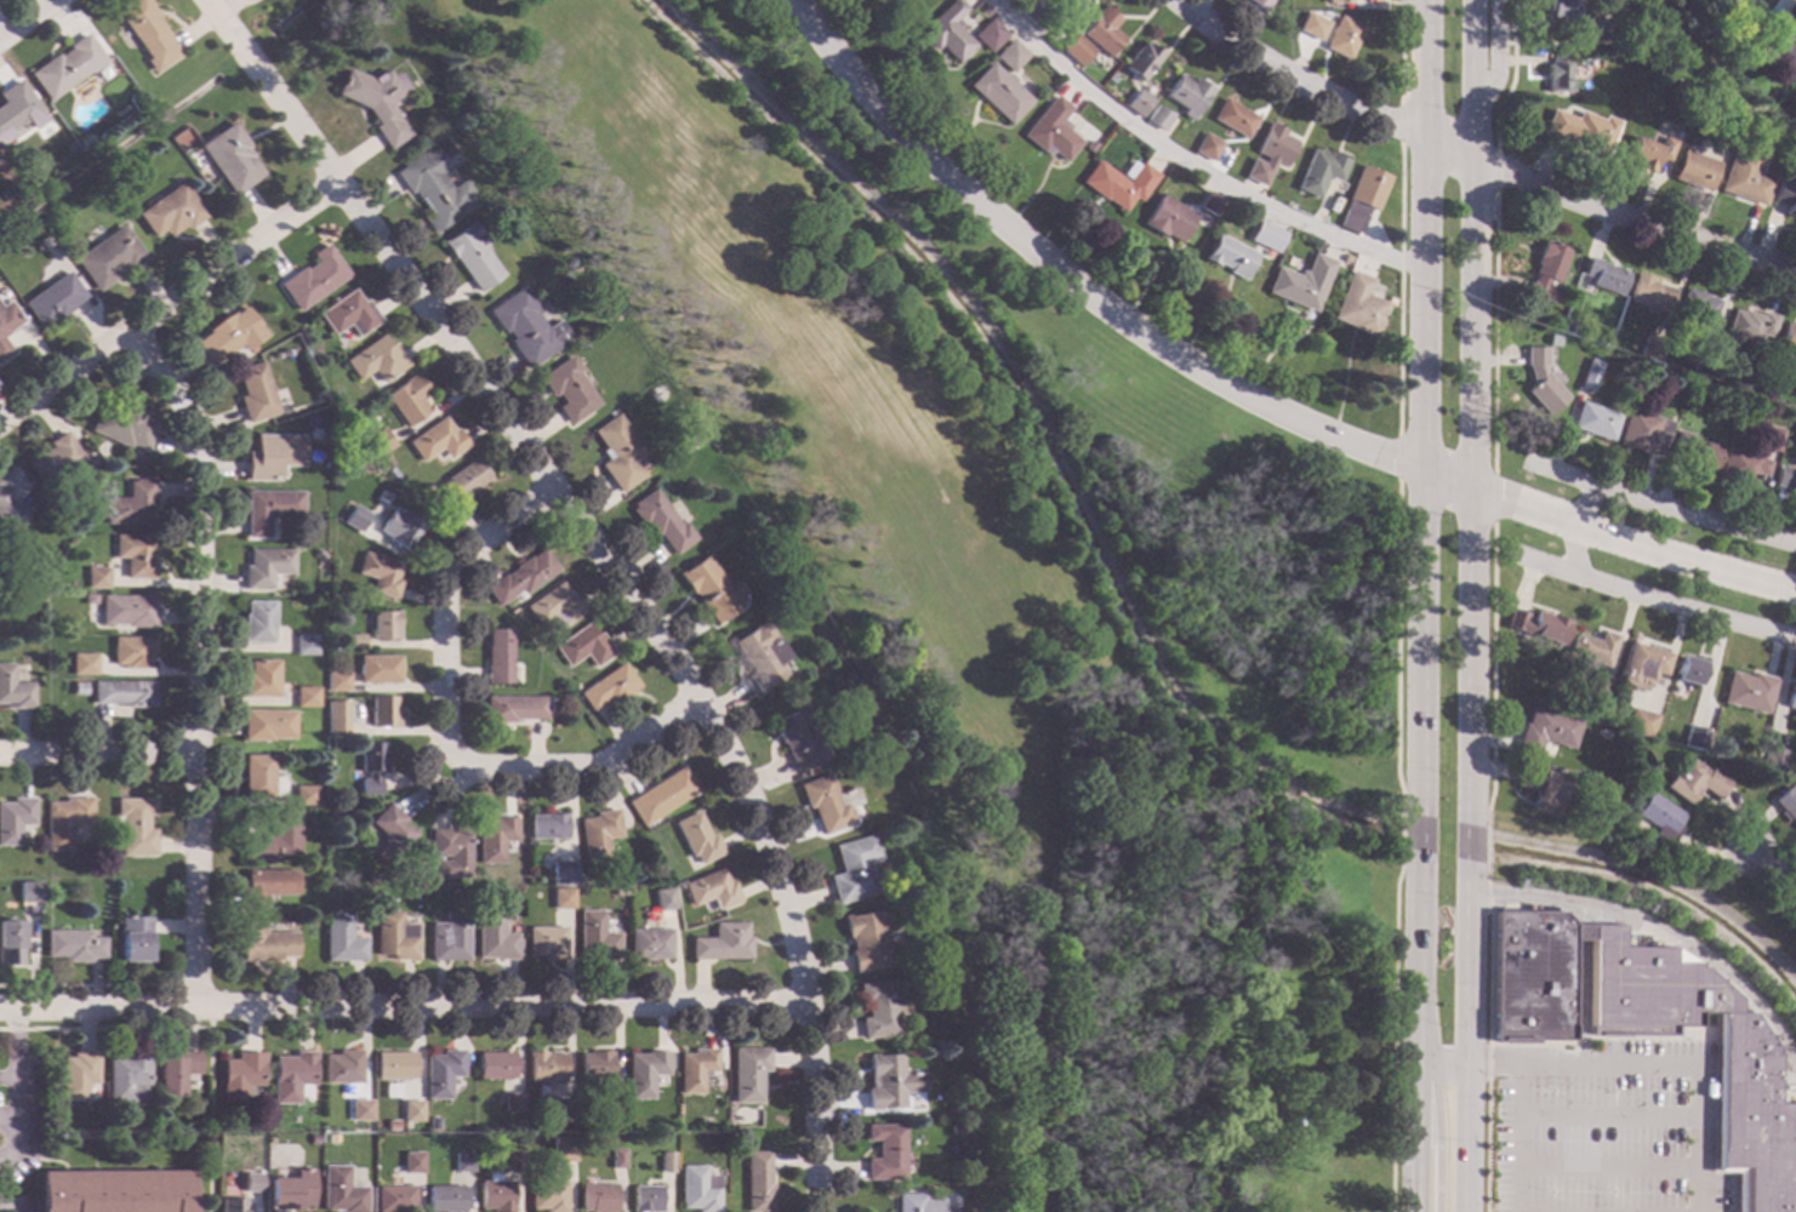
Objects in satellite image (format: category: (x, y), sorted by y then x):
building: (895, 1)
building: (1335, 1)
building: (1729, 1)
building: (1072, 4)
building: (1259, 4)
building: (1567, 7)
road: (1412, 8)
building: (1032, 11)
road: (24, 17)
building: (971, 19)
building: (1595, 24)
building: (1316, 27)
building: (144, 32)
building: (945, 32)
building: (1101, 32)
building: (987, 35)
building: (1777, 35)
building: (1341, 36)
road: (1637, 42)
building: (1070, 47)
road: (1401, 51)
building: (1009, 56)
building: (1141, 59)
road: (1495, 61)
building: (64, 67)
building: (1557, 75)
road: (1511, 76)
building: (1110, 78)
building: (1683, 88)
building: (997, 92)
building: (1186, 95)
building: (374, 102)
building: (1138, 103)
building: (18, 109)
building: (1157, 118)
building: (1232, 118)
road: (1401, 122)
building: (1049, 130)
building: (1583, 130)
building: (1783, 135)
building: (81, 141)
building: (1205, 147)
building: (1705, 147)
building: (1646, 153)
building: (1267, 154)
building: (228, 159)
road: (1181, 162)
road: (1473, 162)
road: (1495, 170)
building: (1318, 171)
building: (1693, 171)
building: (513, 175)
building: (1743, 178)
building: (1116, 183)
building: (432, 184)
building: (17, 187)
building: (1784, 195)
building: (1359, 198)
building: (1209, 204)
building: (169, 212)
building: (1165, 219)
building: (1271, 238)
building: (469, 256)
building: (1227, 256)
building: (1346, 257)
building: (107, 258)
building: (566, 263)
building: (1547, 273)
building: (1602, 276)
building: (310, 279)
road: (1068, 280)
building: (1299, 282)
road: (1398, 287)
building: (1648, 293)
road: (166, 299)
building: (51, 301)
building: (1356, 305)
building: (1695, 307)
building: (346, 314)
building: (6, 318)
building: (1749, 325)
building: (521, 326)
road: (1494, 330)
building: (227, 336)
building: (1786, 339)
building: (1551, 341)
building: (1649, 348)
building: (4, 350)
building: (374, 360)
building: (1699, 365)
building: (1587, 375)
building: (1539, 381)
building: (1795, 383)
building: (566, 389)
building: (253, 393)
building: (317, 396)
building: (405, 399)
road: (1414, 402)
road: (1472, 404)
building: (1592, 421)
building: (120, 427)
building: (1642, 433)
building: (1772, 439)
building: (435, 440)
building: (377, 441)
building: (1693, 452)
building: (617, 453)
building: (272, 456)
road: (1397, 457)
building: (53, 461)
building: (386, 461)
building: (1741, 465)
building: (1785, 480)
building: (461, 481)
building: (382, 497)
road: (1493, 497)
building: (10, 499)
road: (1658, 503)
building: (131, 504)
road: (1585, 508)
building: (268, 510)
building: (354, 519)
building: (660, 522)
building: (399, 530)
road: (1602, 537)
park: (1641, 544)
road: (1573, 553)
building: (135, 555)
building: (264, 566)
road: (605, 567)
building: (378, 574)
building: (520, 577)
building: (97, 578)
building: (709, 589)
building: (89, 599)
road: (443, 599)
road: (1649, 599)
building: (553, 607)
park: (1026, 610)
building: (127, 611)
building: (257, 622)
building: (383, 625)
building: (1535, 625)
road: (1395, 636)
building: (353, 640)
building: (304, 644)
building: (582, 646)
building: (1590, 648)
building: (132, 652)
road: (194, 656)
building: (496, 657)
building: (760, 657)
building: (82, 664)
building: (1638, 664)
road: (1490, 665)
building: (377, 668)
building: (1684, 670)
building: (260, 679)
building: (336, 681)
building: (1595, 686)
building: (609, 688)
building: (13, 690)
building: (78, 690)
building: (1745, 691)
building: (122, 693)
building: (304, 697)
building: (1790, 704)
building: (512, 709)
building: (382, 711)
building: (335, 724)
building: (1637, 724)
building: (267, 725)
building: (1544, 731)
building: (797, 737)
building: (1693, 738)
road: (96, 750)
building: (1771, 759)
road: (587, 765)
building: (370, 767)
building: (256, 777)
road: (428, 781)
building: (1692, 782)
building: (1538, 787)
building: (303, 795)
building: (661, 795)
building: (827, 802)
building: (1785, 806)
building: (1657, 818)
building: (15, 819)
building: (65, 821)
building: (546, 825)
building: (133, 827)
road: (1399, 829)
building: (389, 834)
building: (598, 834)
road: (1414, 835)
building: (696, 837)
building: (272, 839)
building: (494, 839)
road: (1467, 840)
road: (1486, 844)
building: (450, 853)
building: (854, 869)
building: (560, 871)
road: (1771, 871)
building: (372, 877)
building: (264, 887)
building: (711, 890)
building: (29, 892)
building: (561, 898)
building: (665, 902)
building: (650, 910)
building: (1578, 932)
road: (1659, 933)
building: (394, 936)
building: (595, 936)
building: (341, 938)
building: (447, 938)
building: (494, 938)
building: (133, 939)
building: (865, 941)
building: (10, 943)
building: (546, 943)
building: (722, 943)
building: (263, 944)
building: (649, 944)
building: (72, 945)
building: (1528, 976)
road: (95, 984)
road: (1412, 985)
road: (1580, 985)
road: (403, 1002)
building: (877, 1010)
road: (106, 1027)
road: (1578, 1036)
road: (1392, 1039)
road: (1465, 1041)
road: (1558, 1044)
road: (1487, 1045)
road: (1700, 1048)
road: (15, 1064)
building: (394, 1064)
road: (1638, 1064)
road: (1723, 1064)
building: (494, 1065)
building: (594, 1065)
building: (544, 1067)
building: (342, 1068)
building: (695, 1069)
building: (175, 1073)
building: (440, 1073)
building: (644, 1073)
building: (239, 1074)
building: (76, 1075)
building: (748, 1075)
road: (7, 1076)
building: (126, 1076)
building: (290, 1076)
building: (1745, 1079)
building: (889, 1081)
road: (1435, 1086)
building: (352, 1091)
building: (615, 1099)
building: (512, 1102)
road: (210, 1108)
building: (358, 1109)
building: (412, 1111)
building: (563, 1111)
building: (953, 1111)
road: (1607, 1114)
parking lot: (19, 1115)
building: (55, 1126)
building: (119, 1126)
building: (247, 1127)
building: (406, 1127)
parking lot: (1606, 1127)
road: (15, 1134)
road: (1517, 1138)
building: (331, 1139)
building: (312, 1140)
building: (884, 1151)
road: (40, 1156)
building: (616, 1159)
road: (1409, 1160)
building: (462, 1161)
building: (513, 1161)
building: (564, 1161)
building: (666, 1161)
building: (411, 1164)
road: (1607, 1165)
building: (250, 1180)
building: (757, 1182)
building: (697, 1189)
building: (114, 1191)
building: (289, 1191)
building: (340, 1191)
building: (494, 1194)
building: (547, 1196)
building: (393, 1199)
building: (444, 1199)
building: (597, 1199)
building: (645, 1199)
building: (908, 1202)
road: (18, 1204)
building: (229, 1205)

